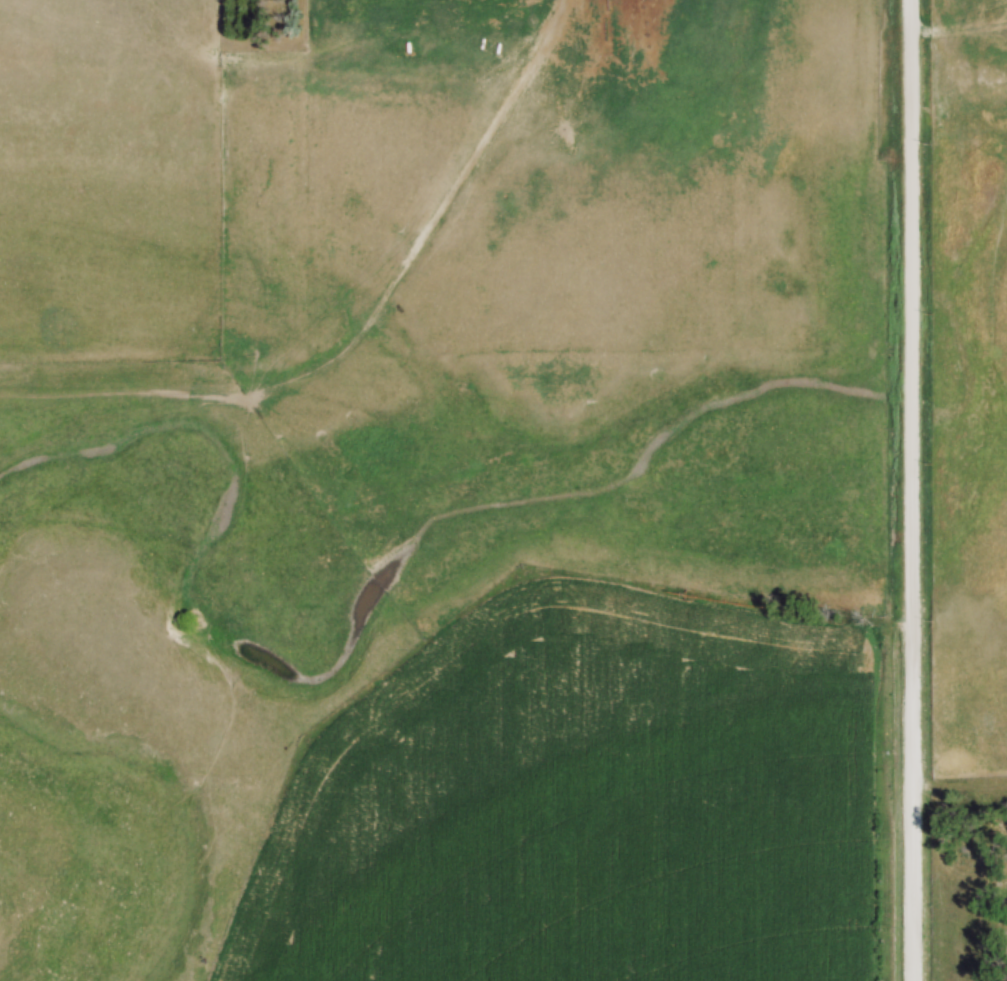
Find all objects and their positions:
road: (913, 490)

